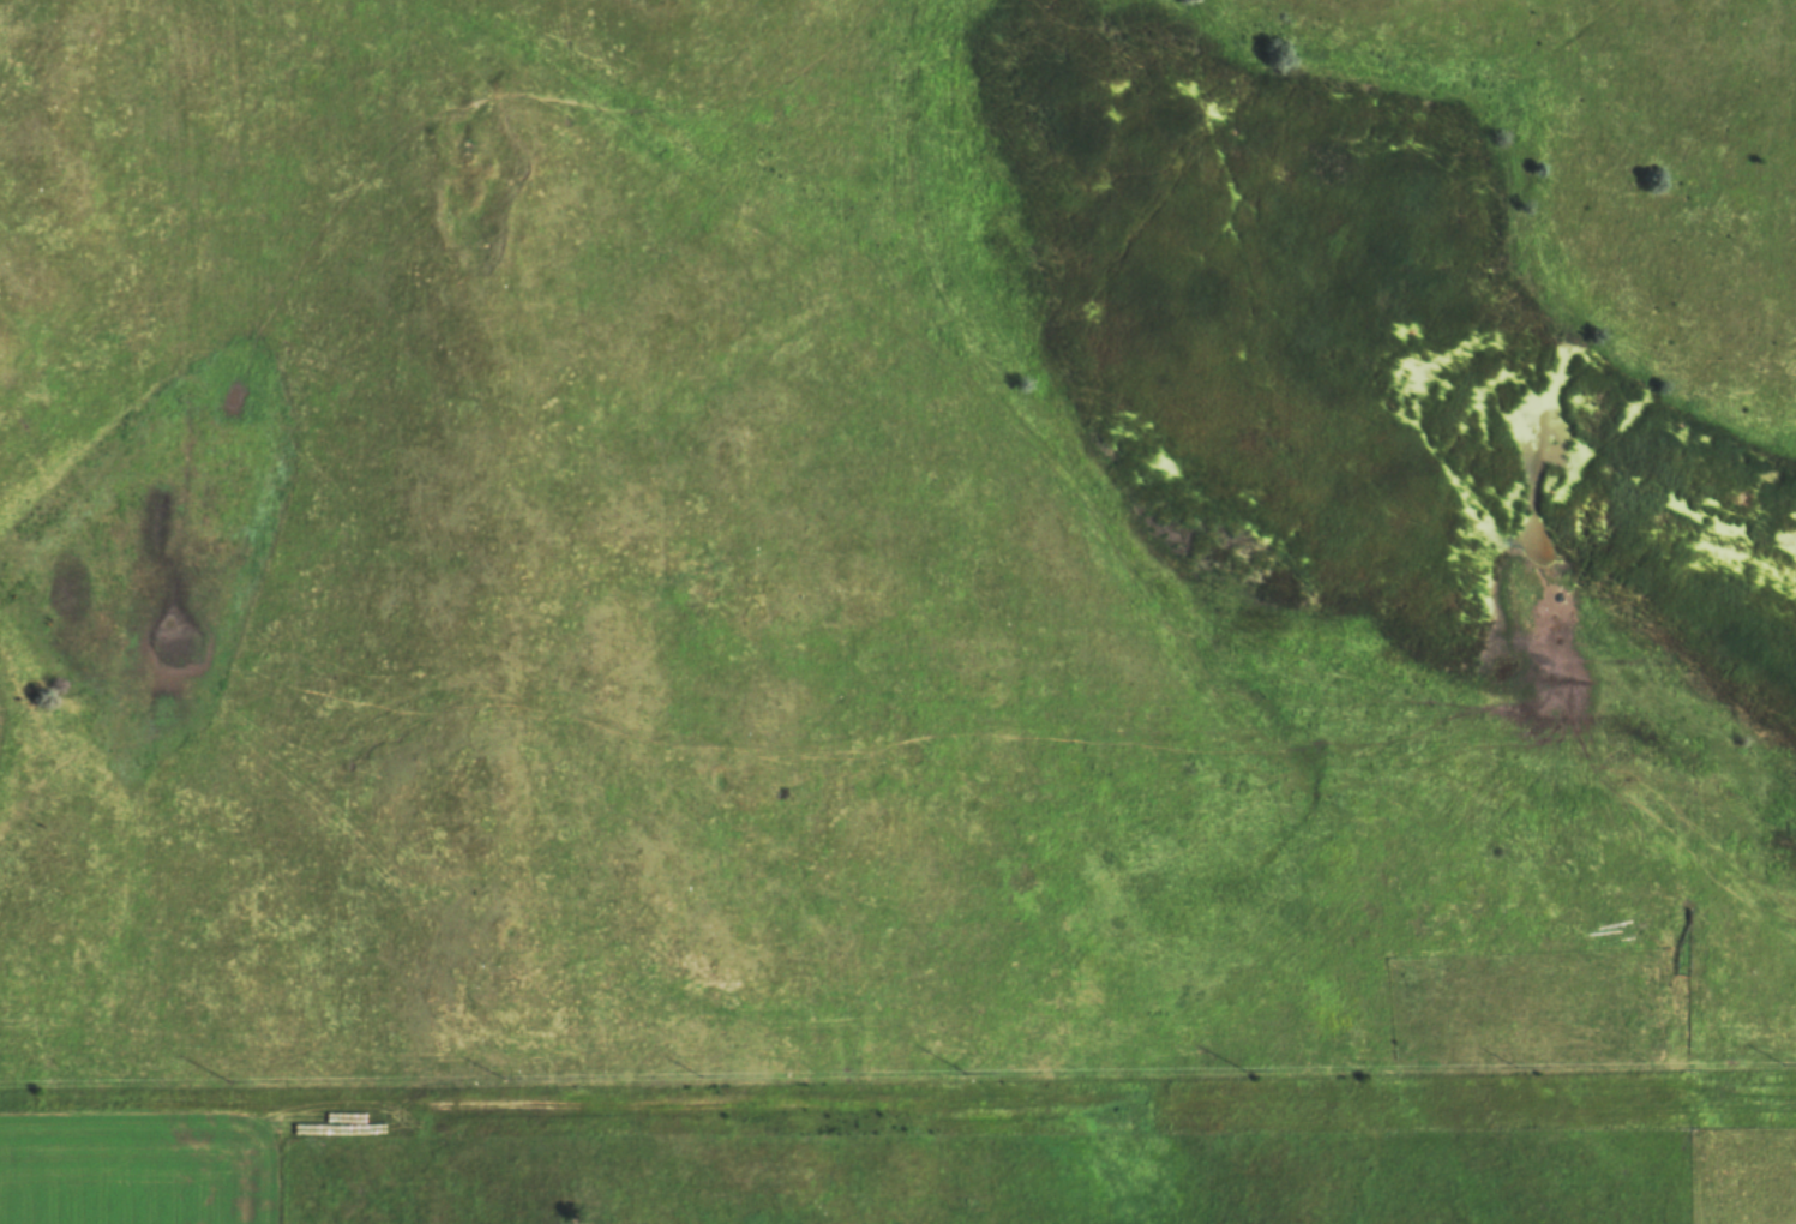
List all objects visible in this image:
road: (897, 1106)

